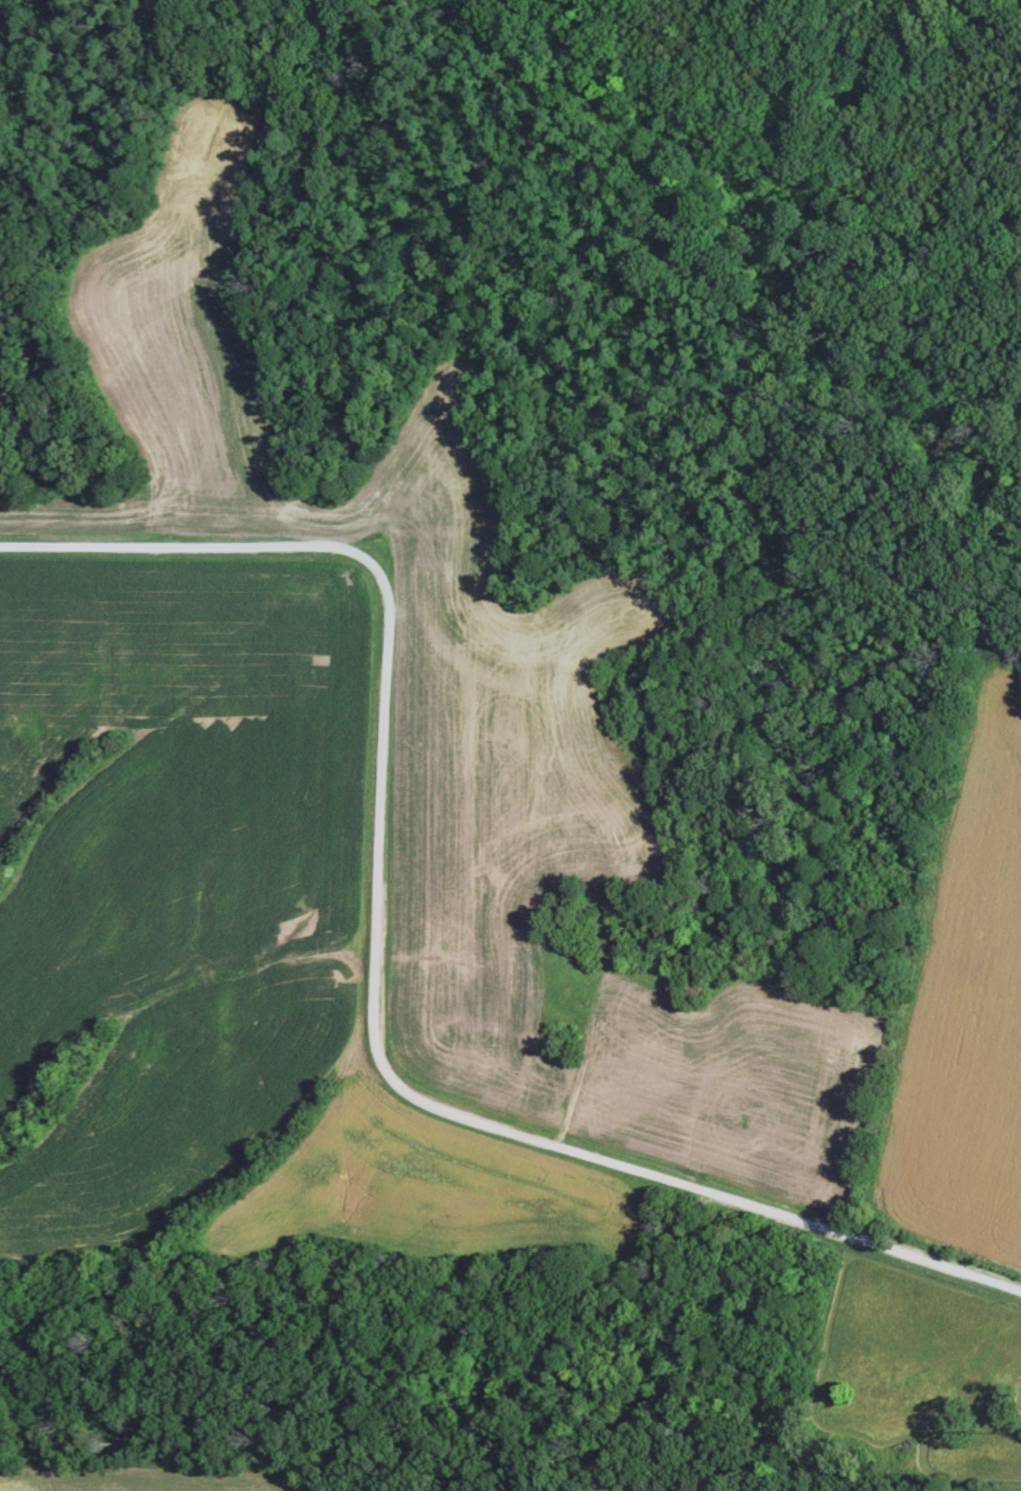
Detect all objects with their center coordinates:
road: (382, 955)

